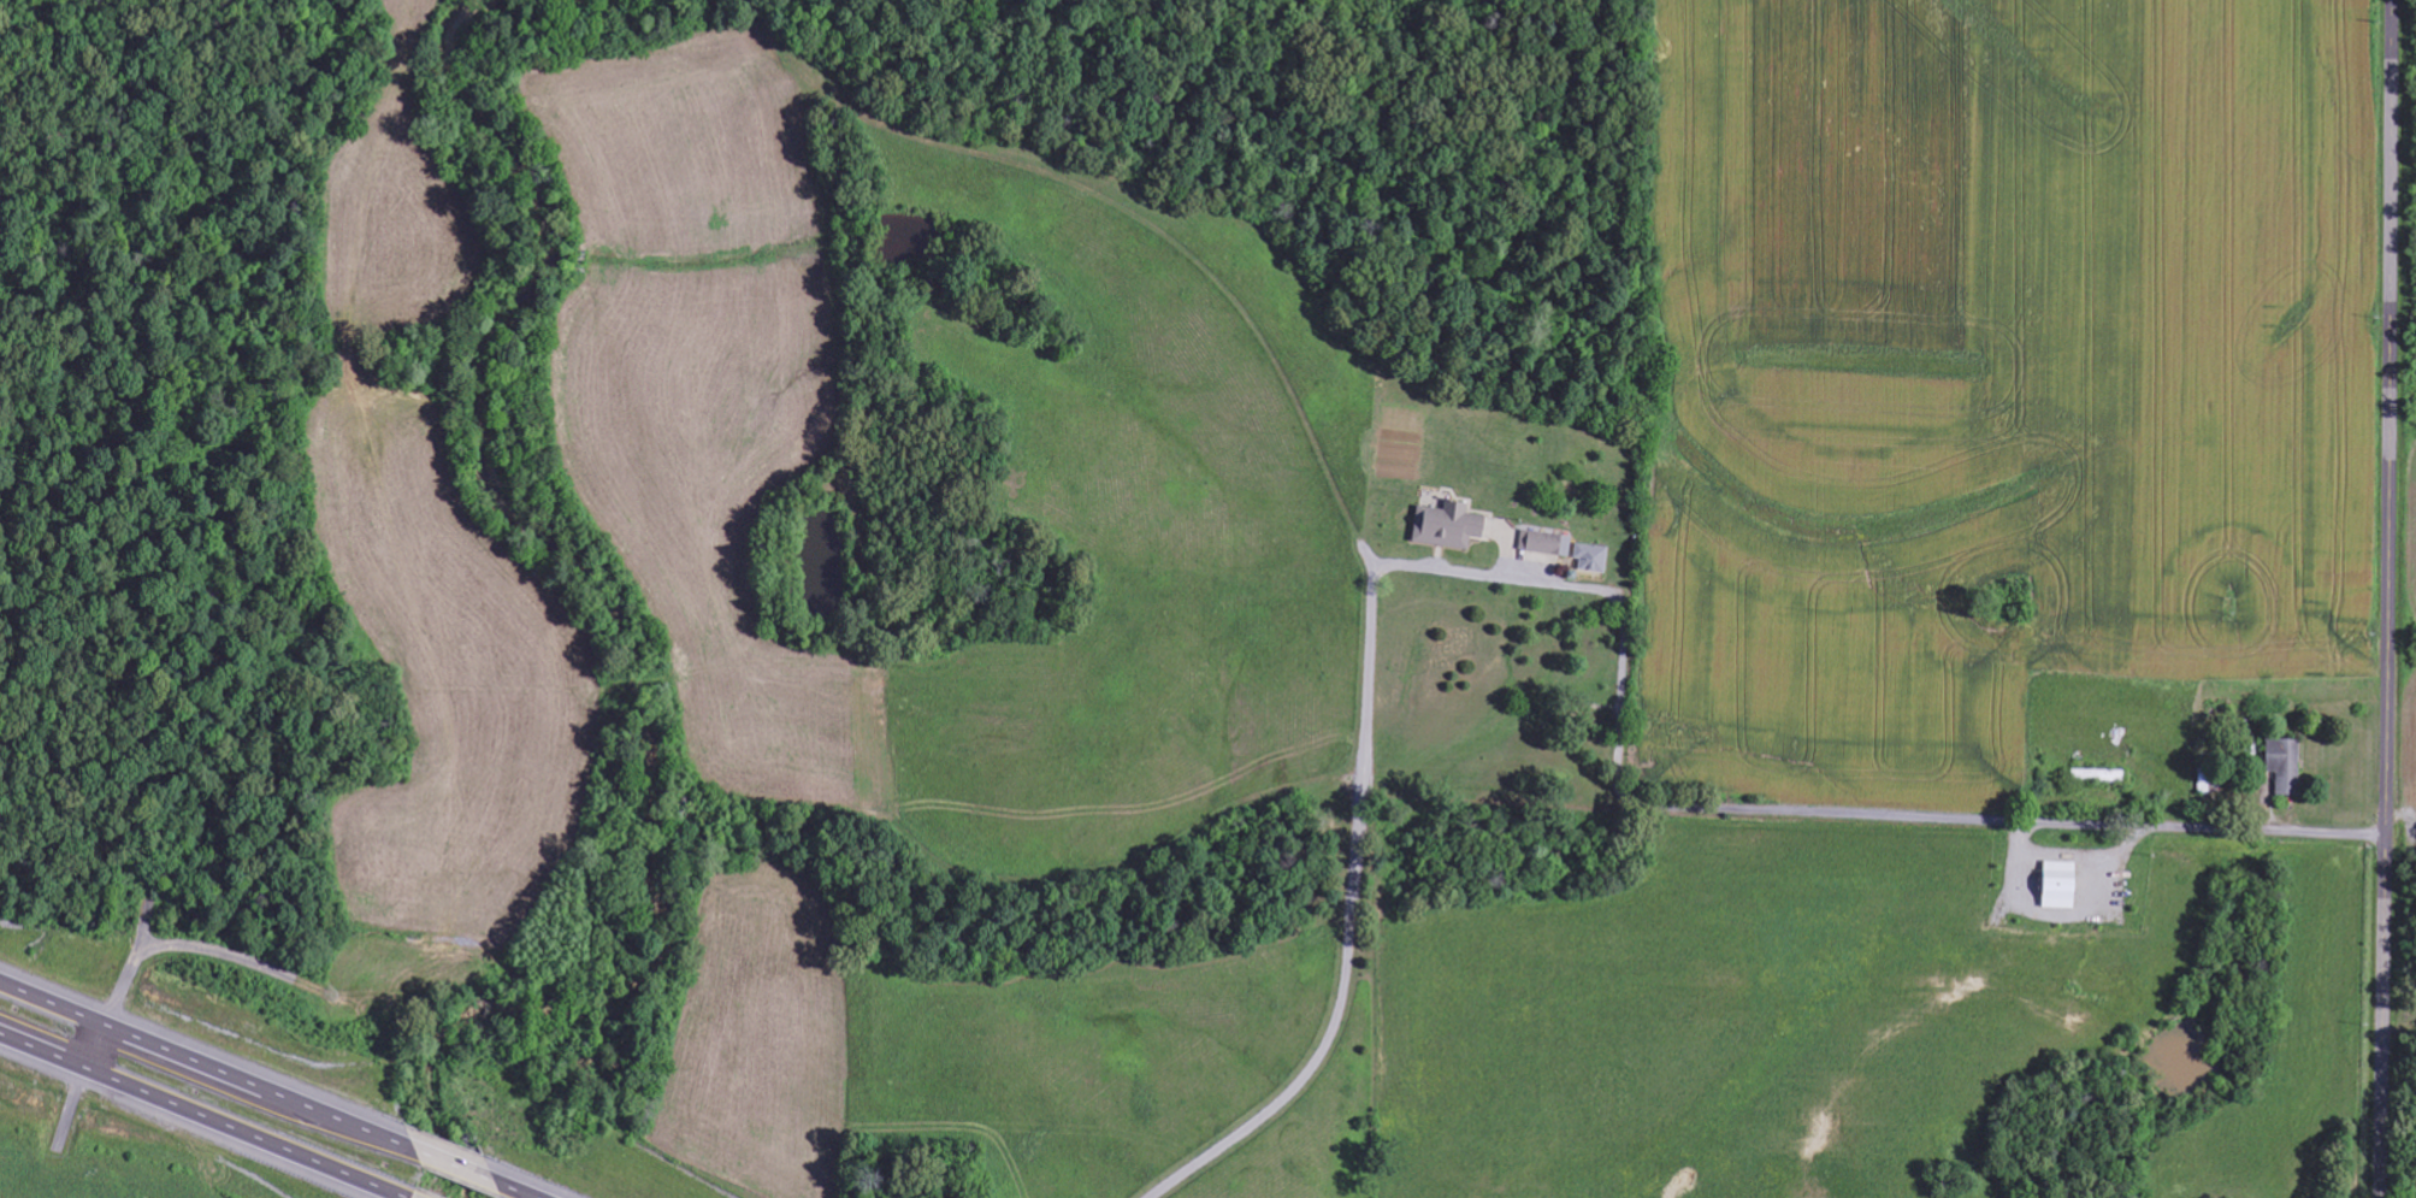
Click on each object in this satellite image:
building: (1449, 526)
building: (1546, 544)
building: (1593, 559)
road: (2386, 598)
building: (2286, 767)
road: (1925, 802)
building: (2061, 886)
road: (96, 1040)
road: (208, 1063)
road: (203, 1110)
road: (459, 1167)
road: (516, 1191)

